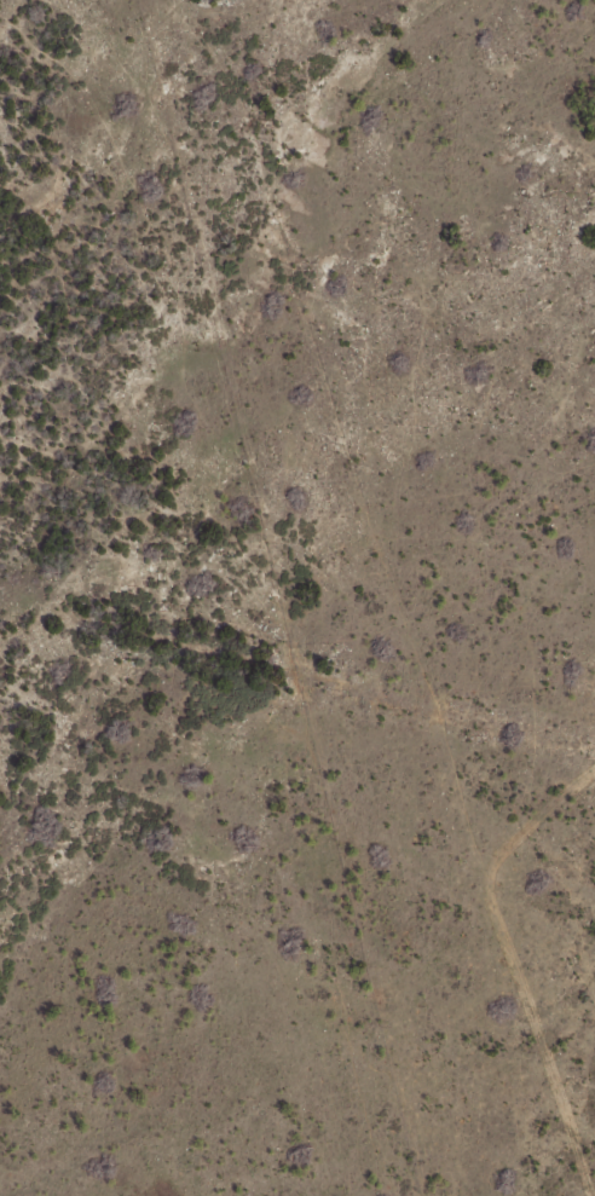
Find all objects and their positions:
road: (433, 617)
road: (327, 1152)

